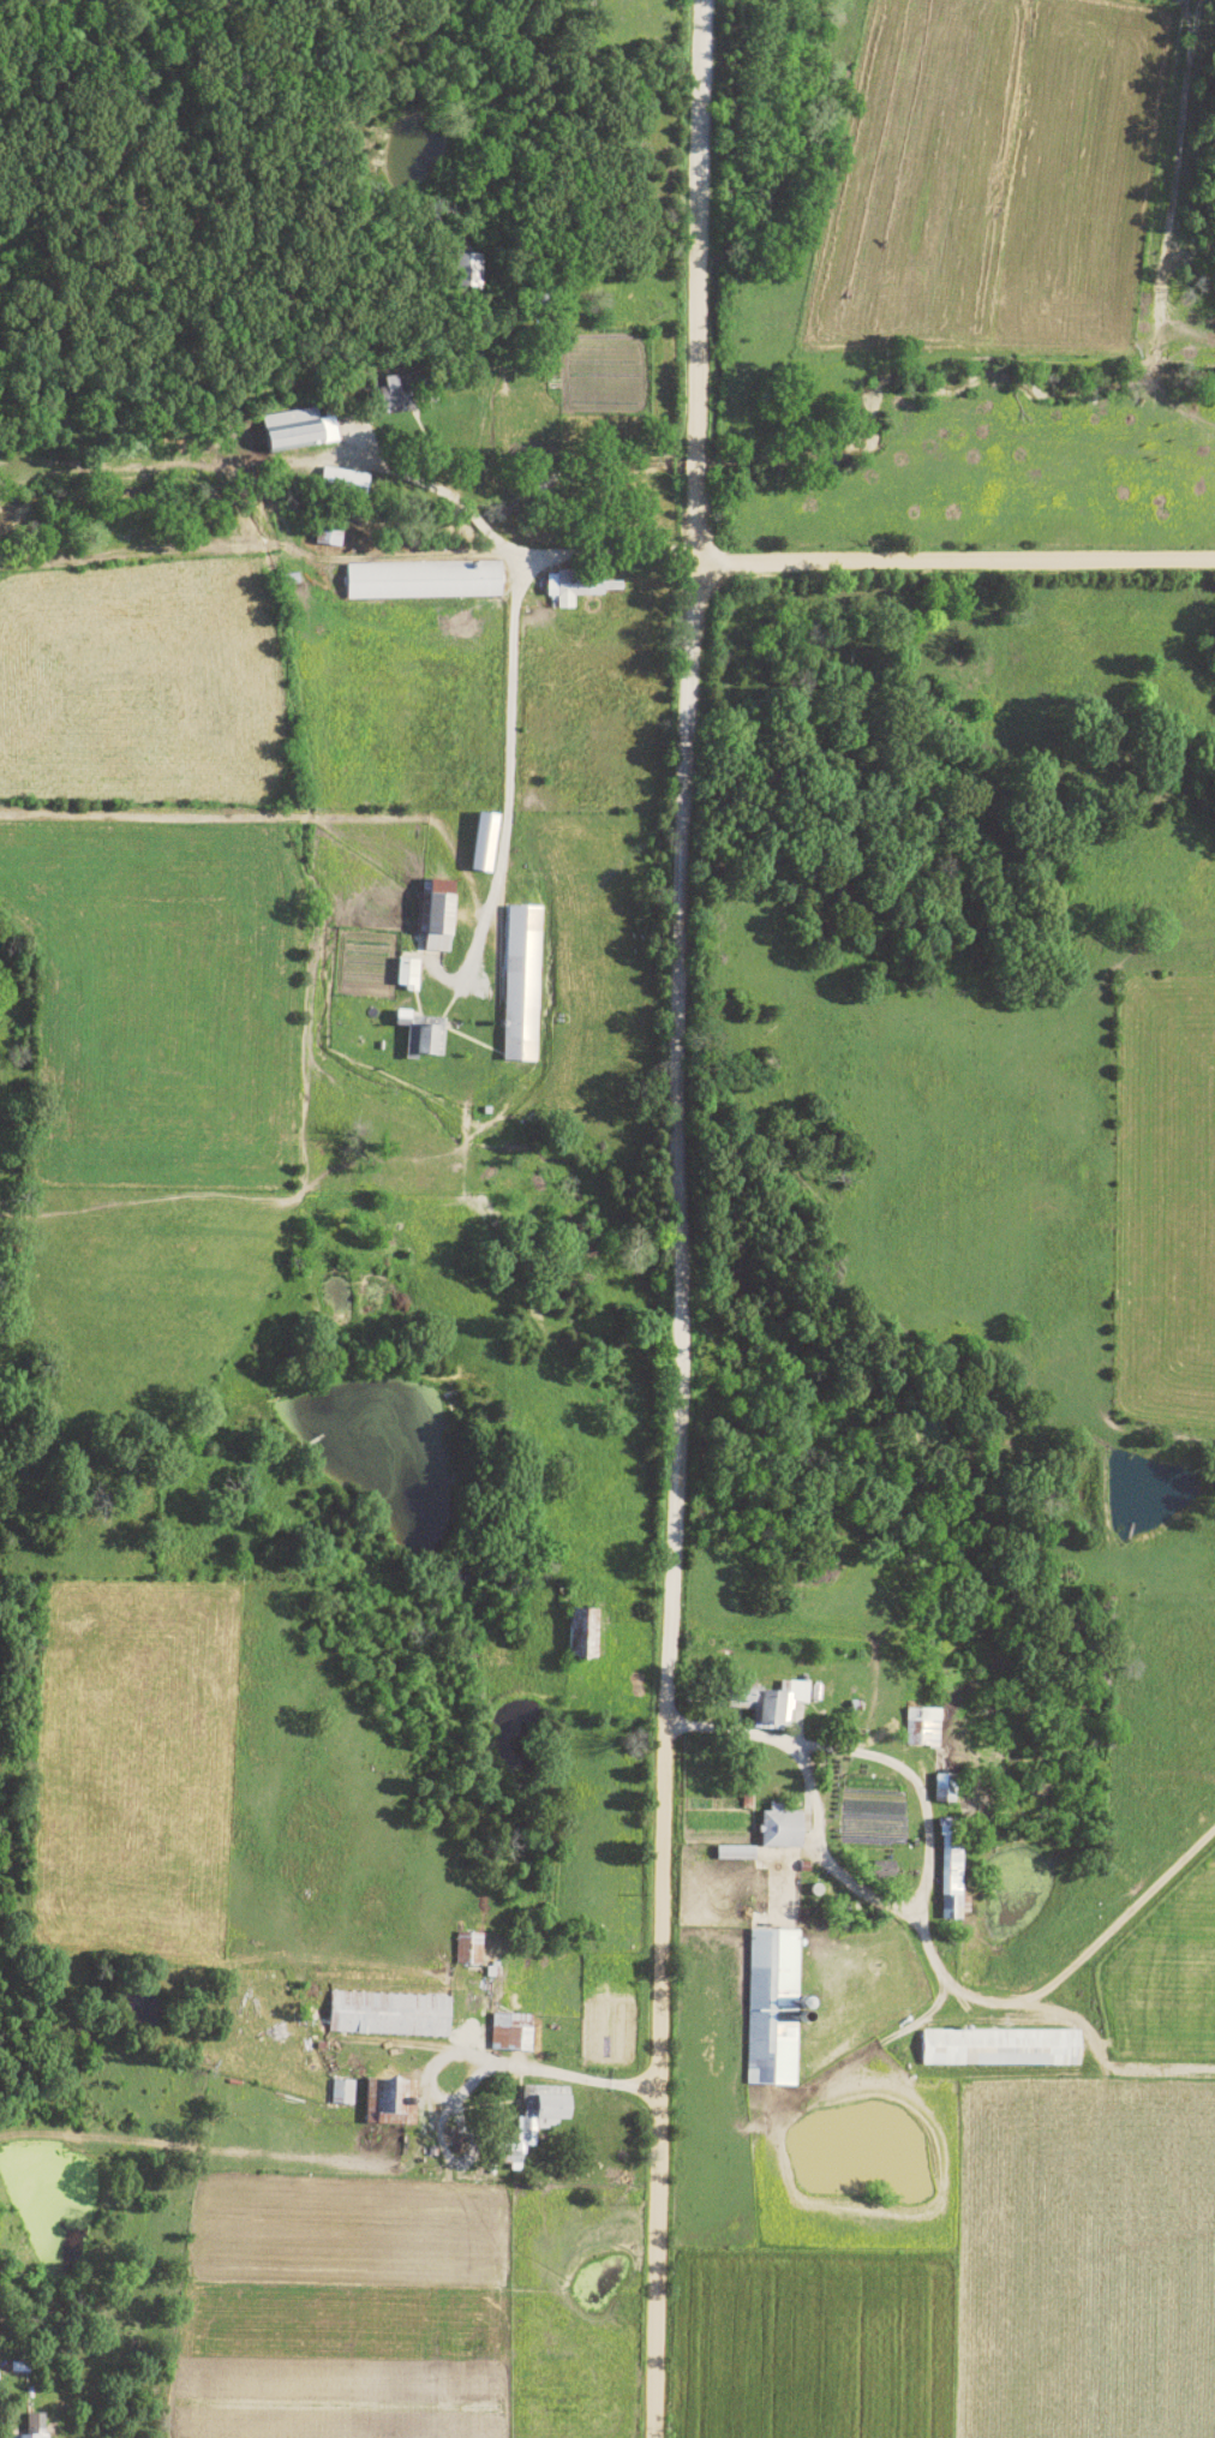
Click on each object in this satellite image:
road: (690, 219)
building: (468, 270)
building: (390, 393)
building: (299, 429)
building: (345, 480)
road: (688, 502)
building: (328, 537)
road: (515, 554)
road: (950, 563)
building: (425, 580)
building: (573, 587)
road: (502, 676)
building: (485, 842)
building: (439, 916)
building: (408, 974)
building: (522, 984)
building: (419, 1040)
road: (336, 1201)
road: (502, 1254)
road: (669, 1501)
building: (585, 1635)
building: (782, 1701)
building: (749, 1705)
building: (923, 1726)
building: (941, 1786)
road: (918, 1811)
building: (782, 1827)
building: (736, 1852)
road: (818, 1857)
building: (951, 1872)
road: (1130, 1908)
building: (469, 1947)
building: (480, 2002)
building: (390, 2014)
building: (511, 2031)
building: (1001, 2046)
road: (858, 2056)
road: (427, 2067)
road: (565, 2077)
building: (343, 2091)
building: (391, 2101)
building: (511, 2156)
building: (35, 2426)

